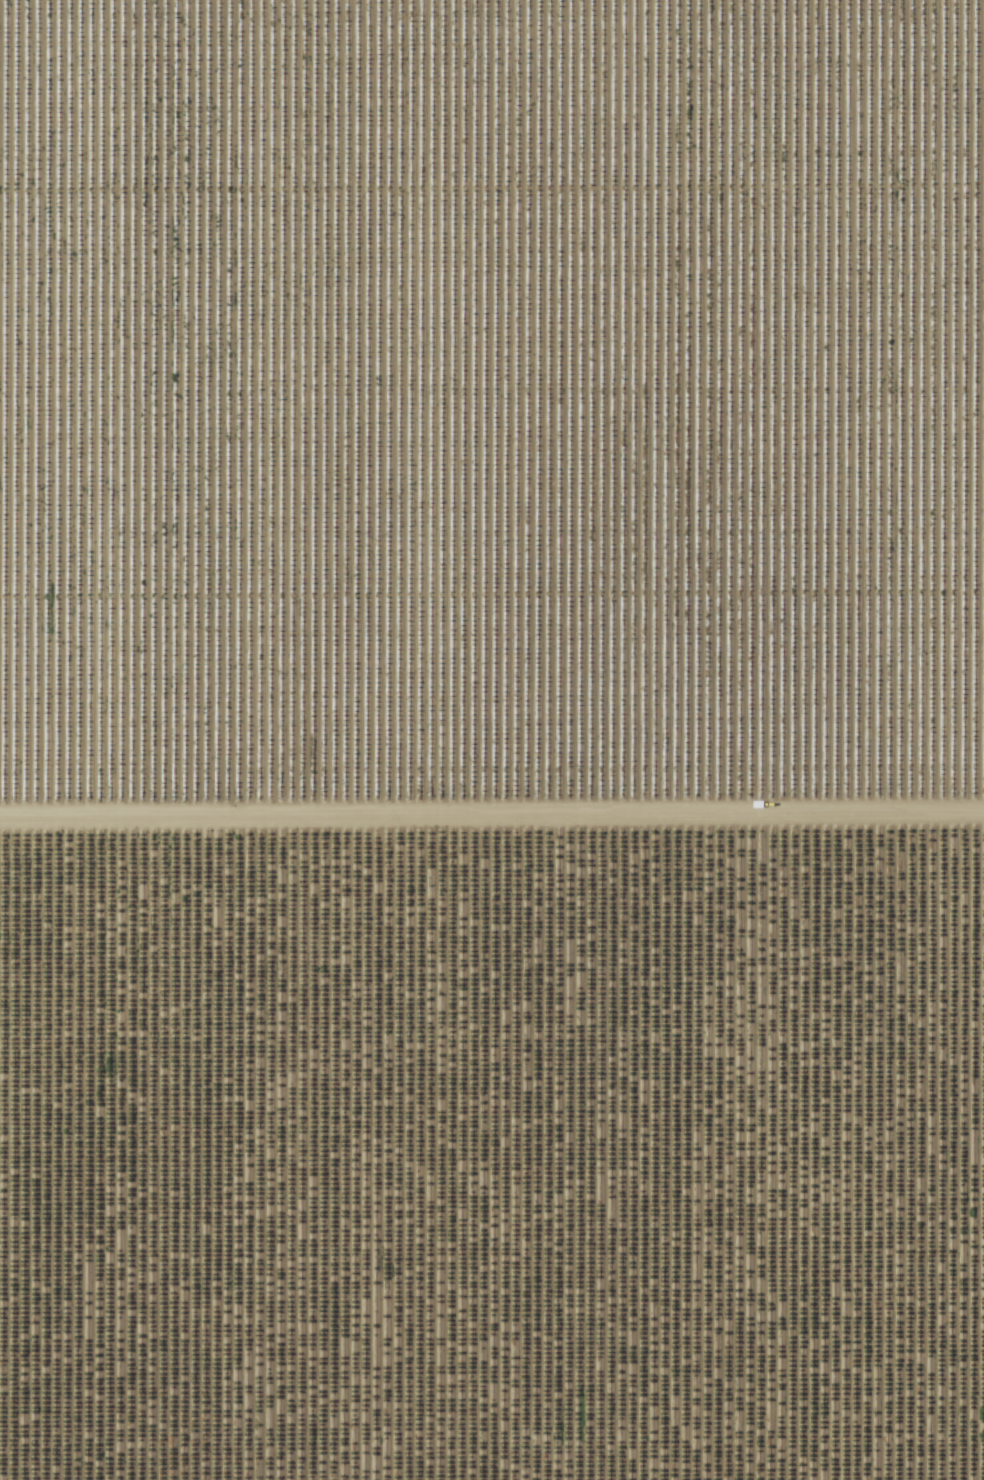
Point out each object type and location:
road: (492, 804)

